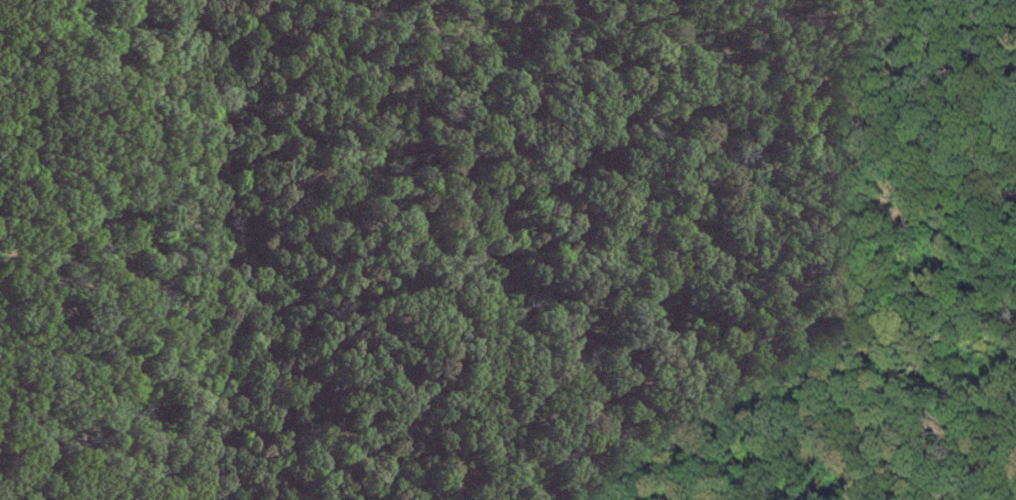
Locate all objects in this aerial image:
road: (927, 131)

